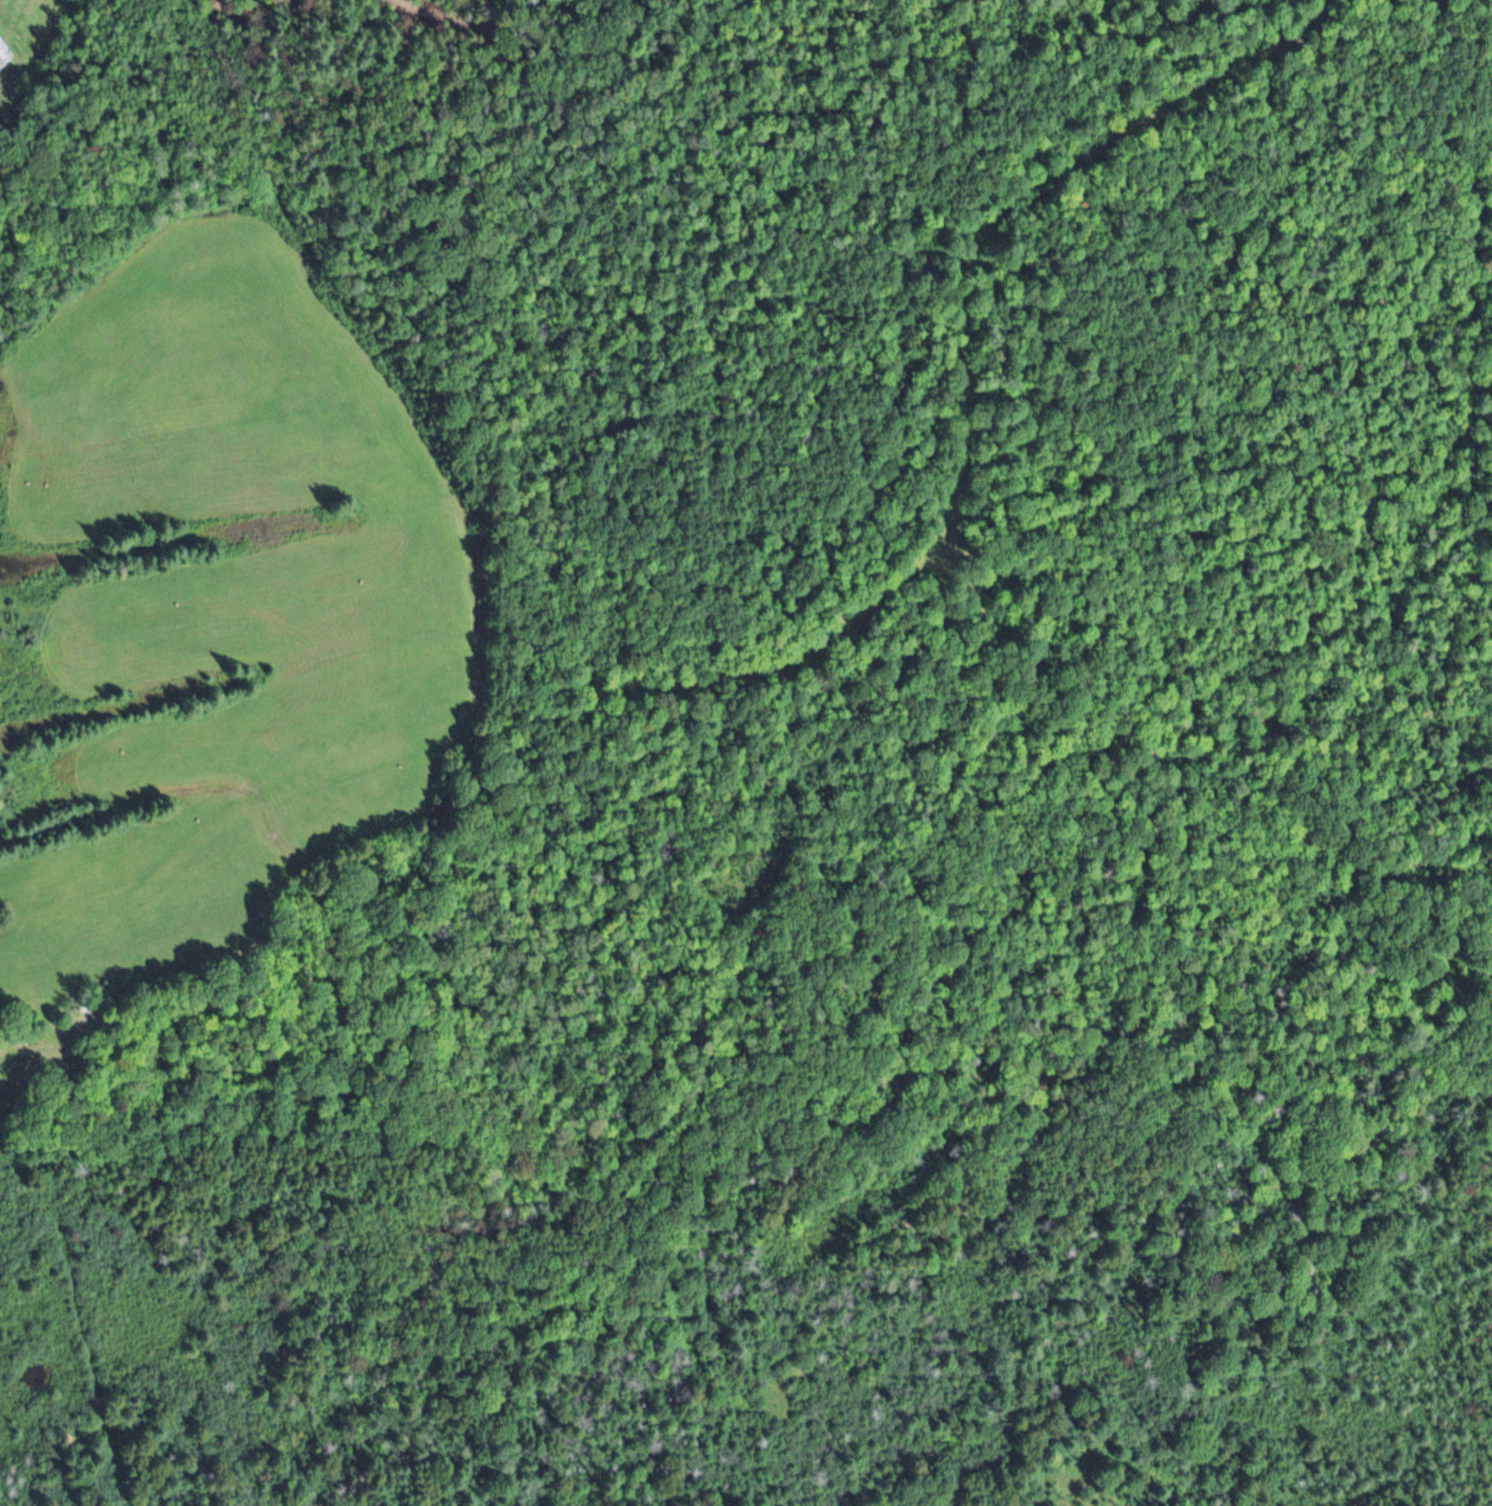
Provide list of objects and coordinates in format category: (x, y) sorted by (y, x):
building: (2, 57)

